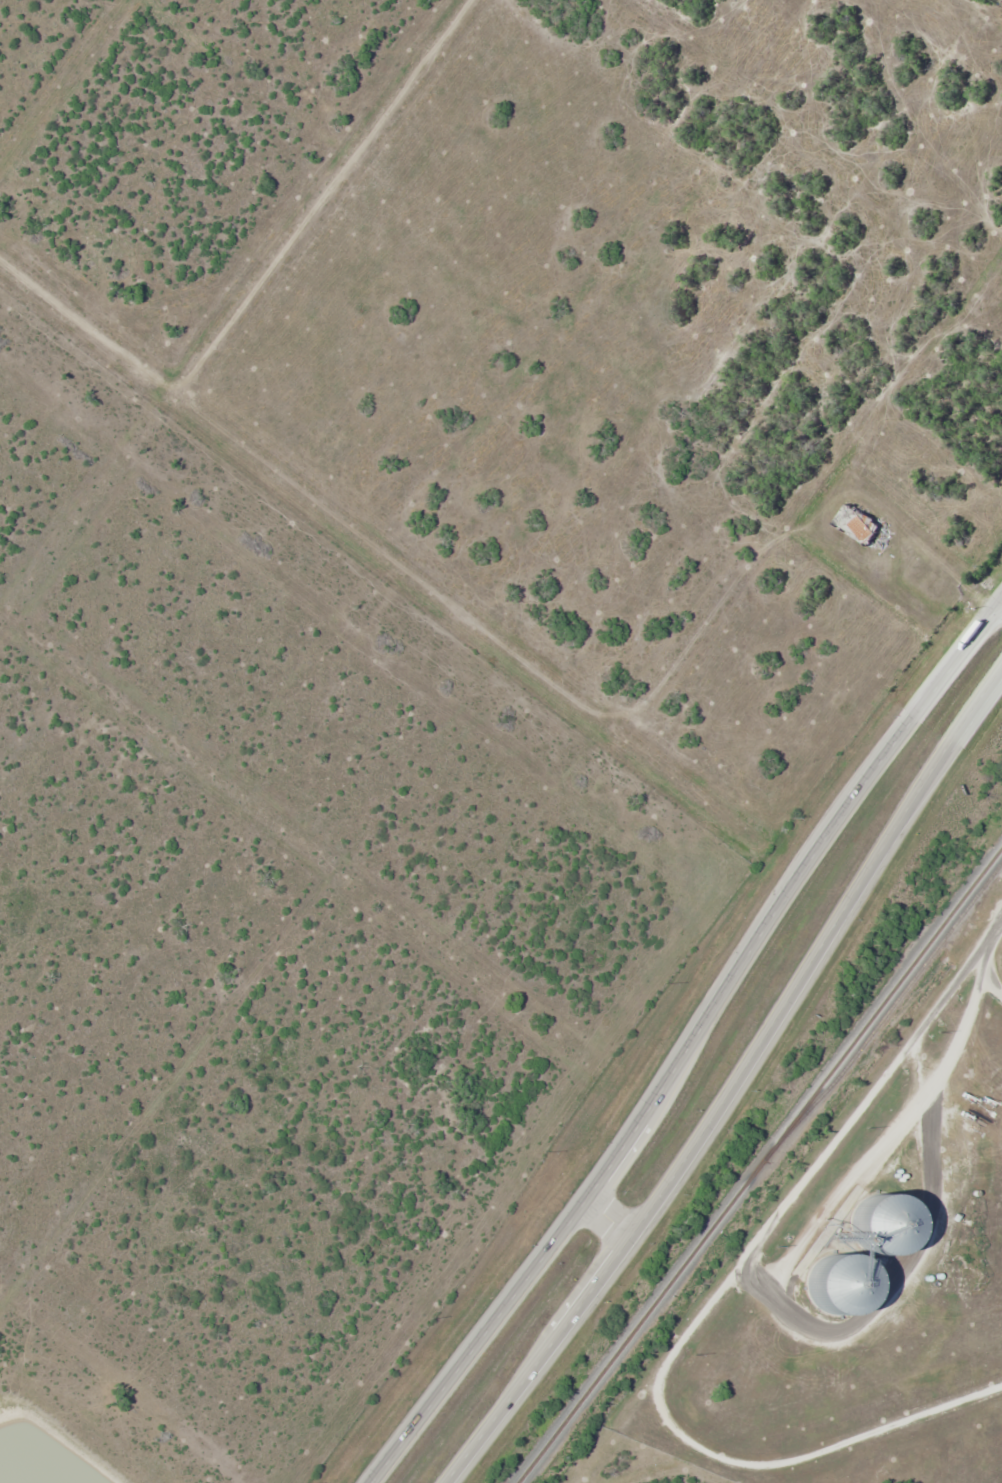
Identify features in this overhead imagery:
road: (324, 198)
road: (86, 328)
building: (856, 522)
railway: (890, 1009)
road: (687, 1041)
road: (728, 1089)
railway: (760, 1164)
road: (605, 1220)
building: (884, 1224)
building: (840, 1286)
road: (707, 1307)

